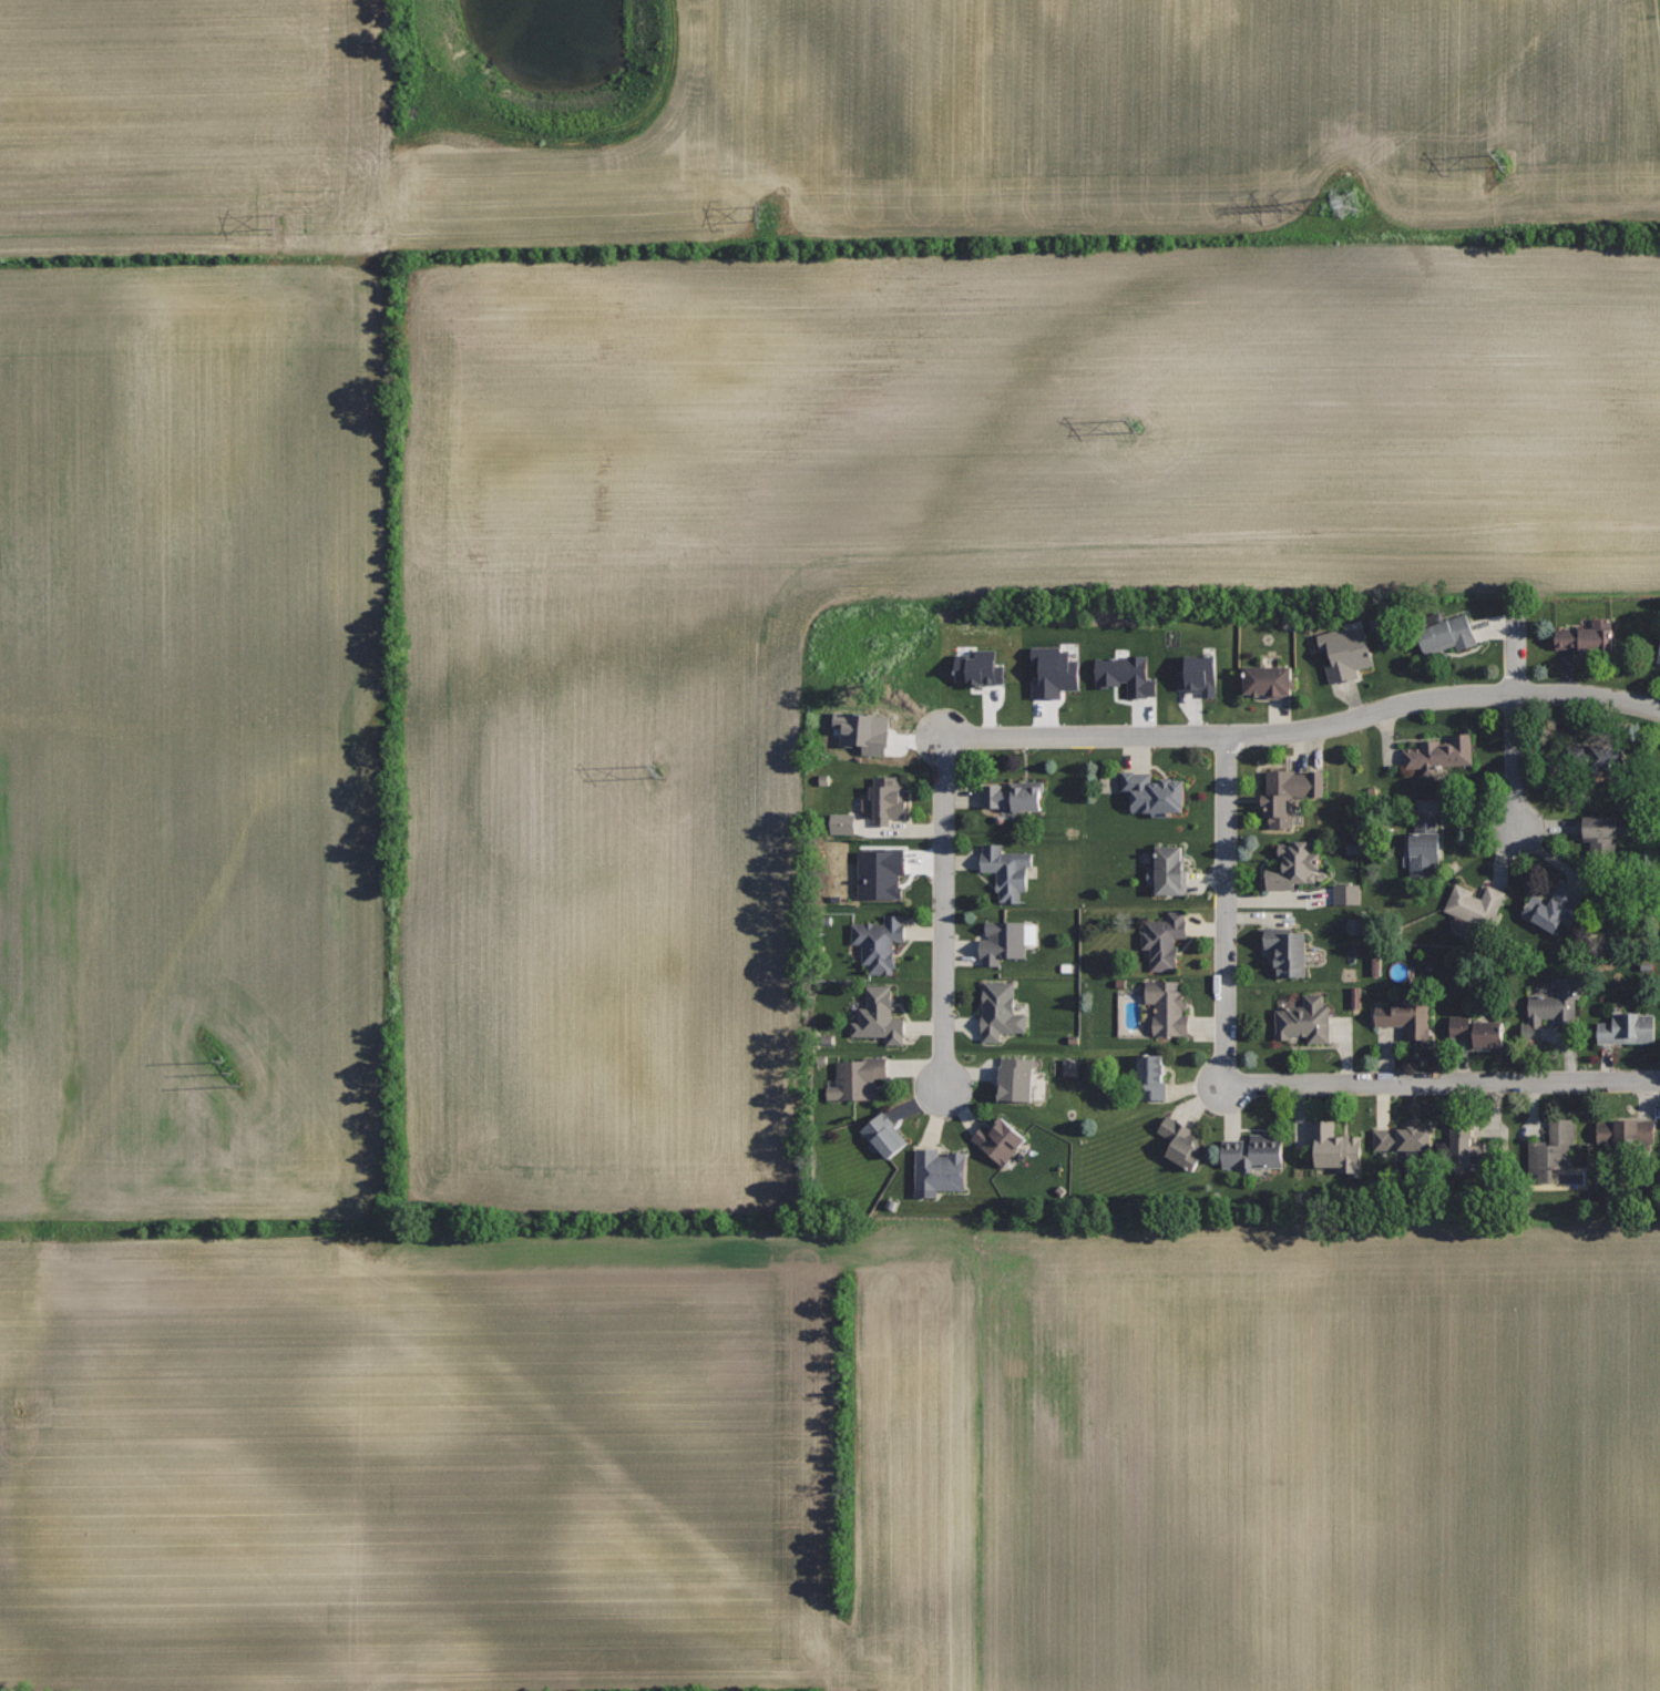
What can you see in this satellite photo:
power tower: (1502, 161)
power tower: (1348, 204)
power tower: (761, 214)
power tower: (280, 221)
power tower: (1135, 426)
building: (1447, 634)
building: (1586, 635)
building: (1343, 653)
building: (1659, 657)
building: (978, 668)
building: (1054, 670)
building: (1201, 674)
building: (1126, 675)
building: (1268, 678)
road: (1516, 720)
road: (1307, 730)
building: (1441, 752)
building: (1595, 761)
power tower: (663, 770)
building: (1154, 792)
building: (1290, 792)
building: (1014, 795)
building: (887, 798)
building: (840, 824)
building: (1601, 837)
building: (1425, 847)
building: (1293, 864)
building: (1006, 869)
building: (1167, 869)
building: (881, 873)
building: (1346, 893)
building: (1474, 903)
building: (1550, 908)
road: (1226, 910)
road: (943, 913)
building: (1165, 937)
building: (879, 941)
building: (1003, 941)
building: (1288, 950)
building: (1169, 1006)
building: (1551, 1007)
building: (1001, 1011)
building: (1408, 1014)
building: (879, 1016)
building: (1305, 1018)
building: (1627, 1027)
building: (1477, 1031)
building: (1069, 1067)
power tower: (230, 1072)
building: (1151, 1075)
building: (858, 1077)
building: (1016, 1078)
road: (1443, 1083)
building: (1626, 1131)
building: (884, 1134)
building: (1000, 1139)
building: (1181, 1142)
building: (1404, 1142)
building: (1466, 1145)
building: (1554, 1145)
building: (1335, 1146)
building: (1253, 1151)
building: (939, 1170)

